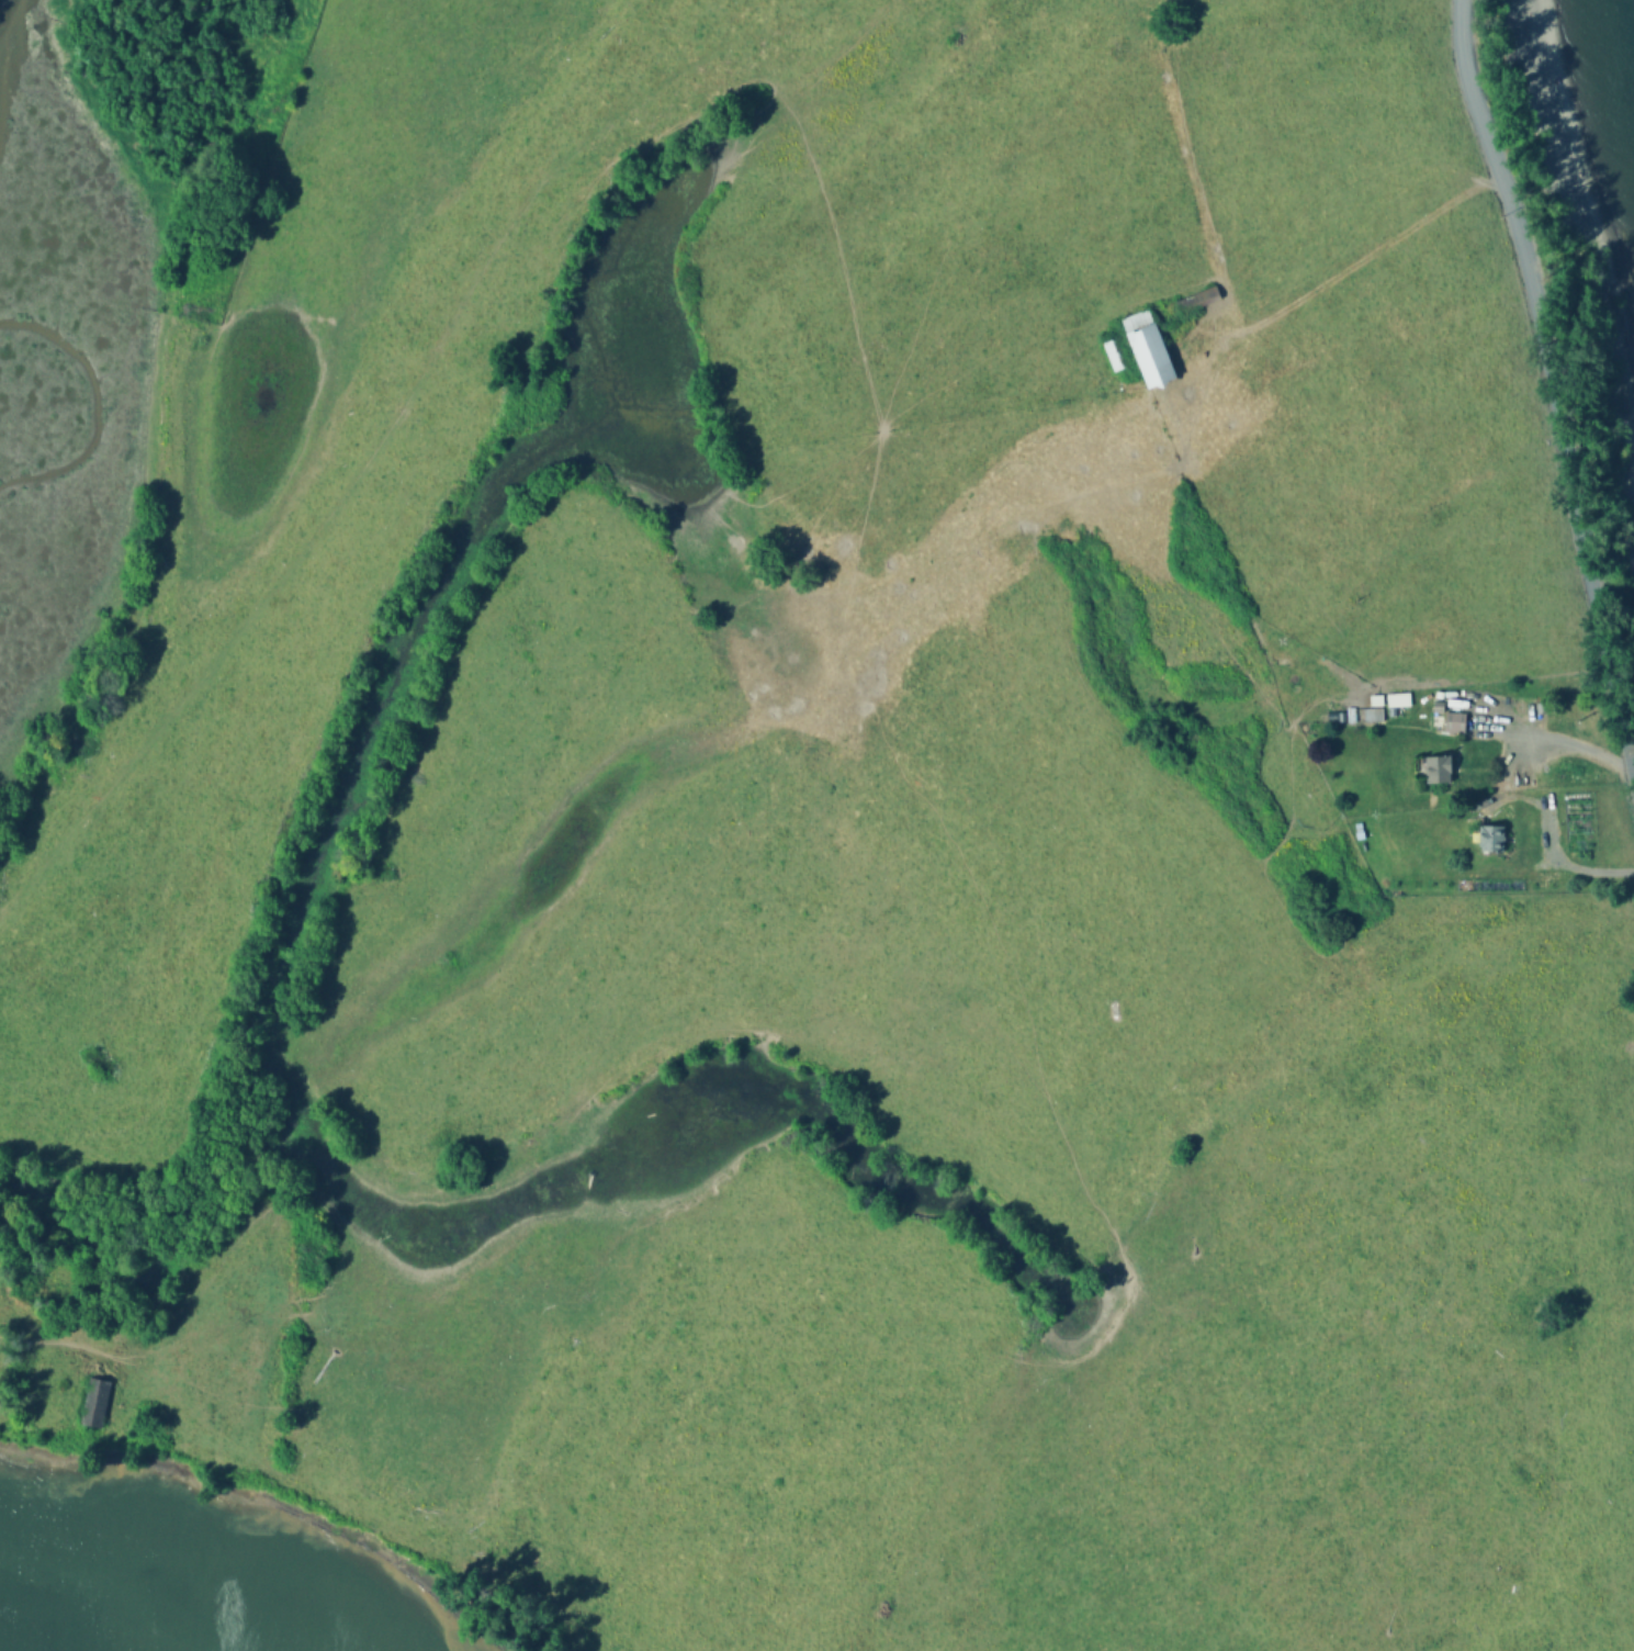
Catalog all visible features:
road: (1299, 299)
building: (1199, 308)
building: (1153, 355)
building: (1115, 357)
road: (1551, 378)
road: (909, 452)
road: (359, 470)
building: (1371, 717)
building: (1455, 726)
road: (1558, 741)
building: (1439, 775)
road: (1551, 840)
building: (1497, 842)
road: (1434, 1036)
road: (102, 1364)
building: (93, 1404)

